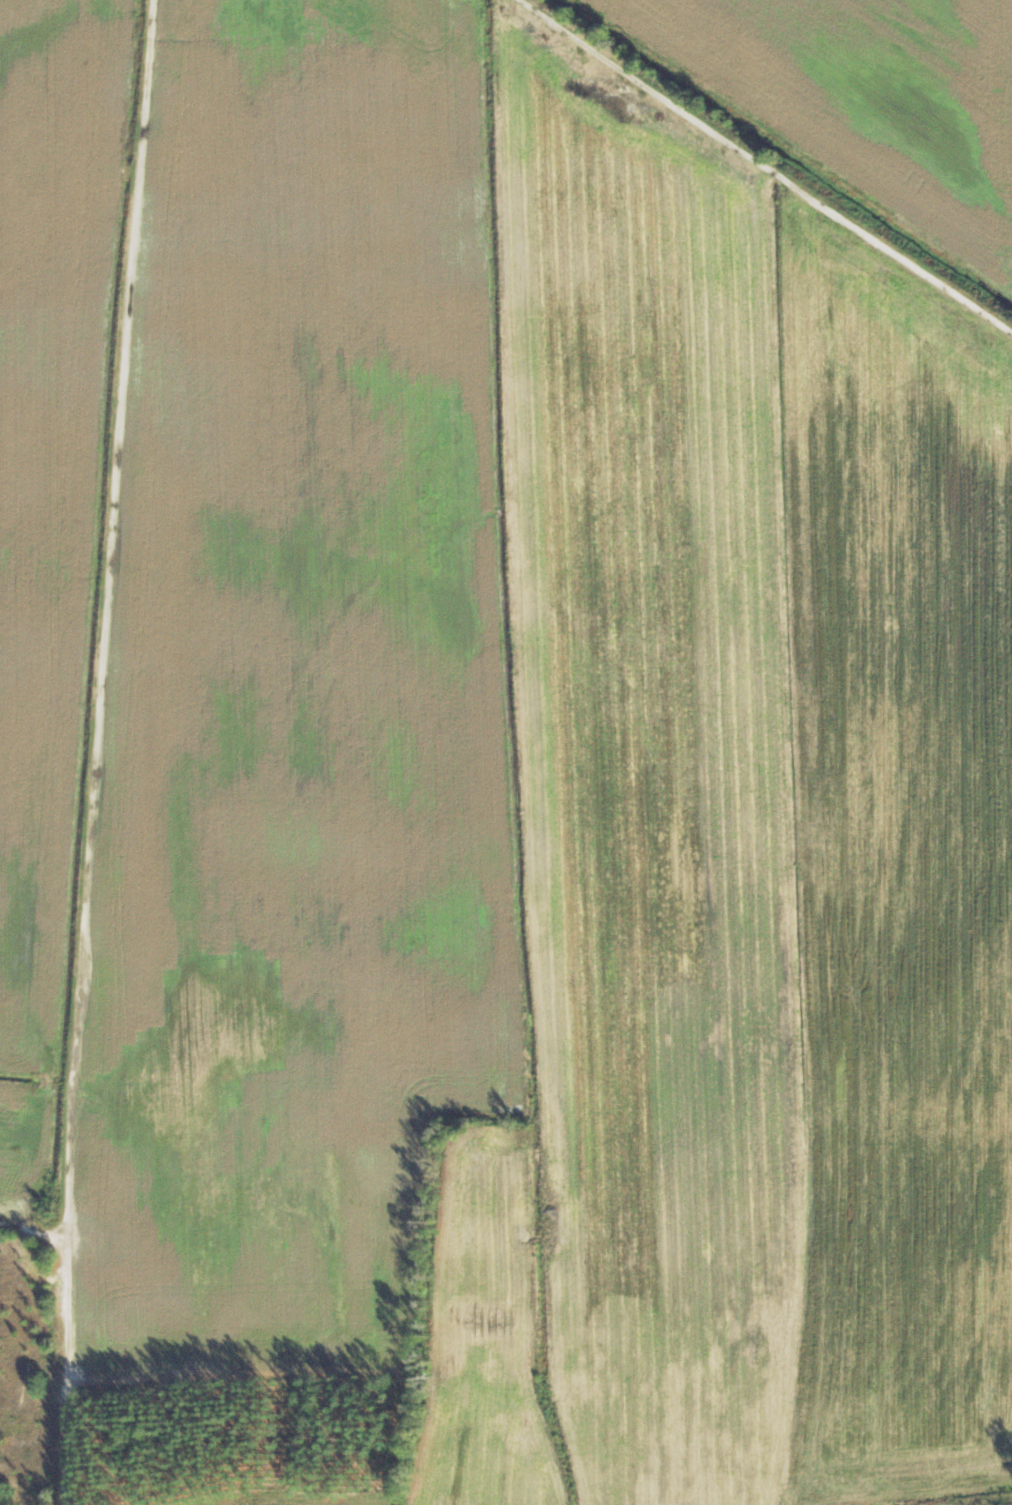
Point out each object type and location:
road: (96, 751)

